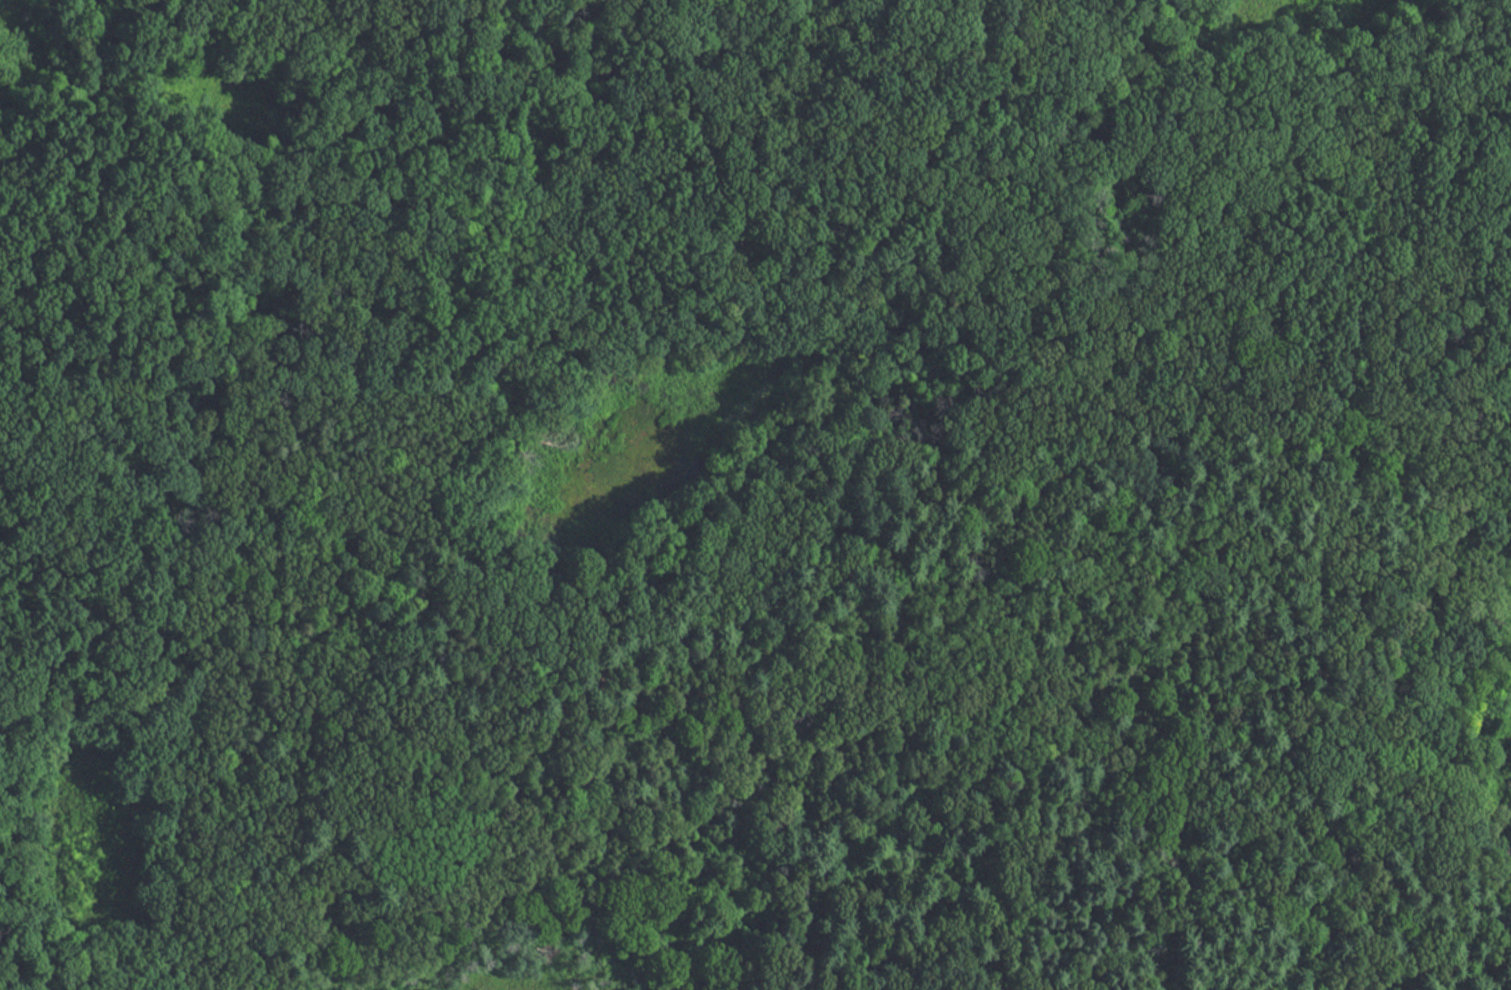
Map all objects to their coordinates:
road: (402, 61)
road: (1034, 79)
road: (99, 102)
road: (1001, 185)
road: (230, 239)
park: (755, 495)
road: (83, 586)
road: (299, 586)

